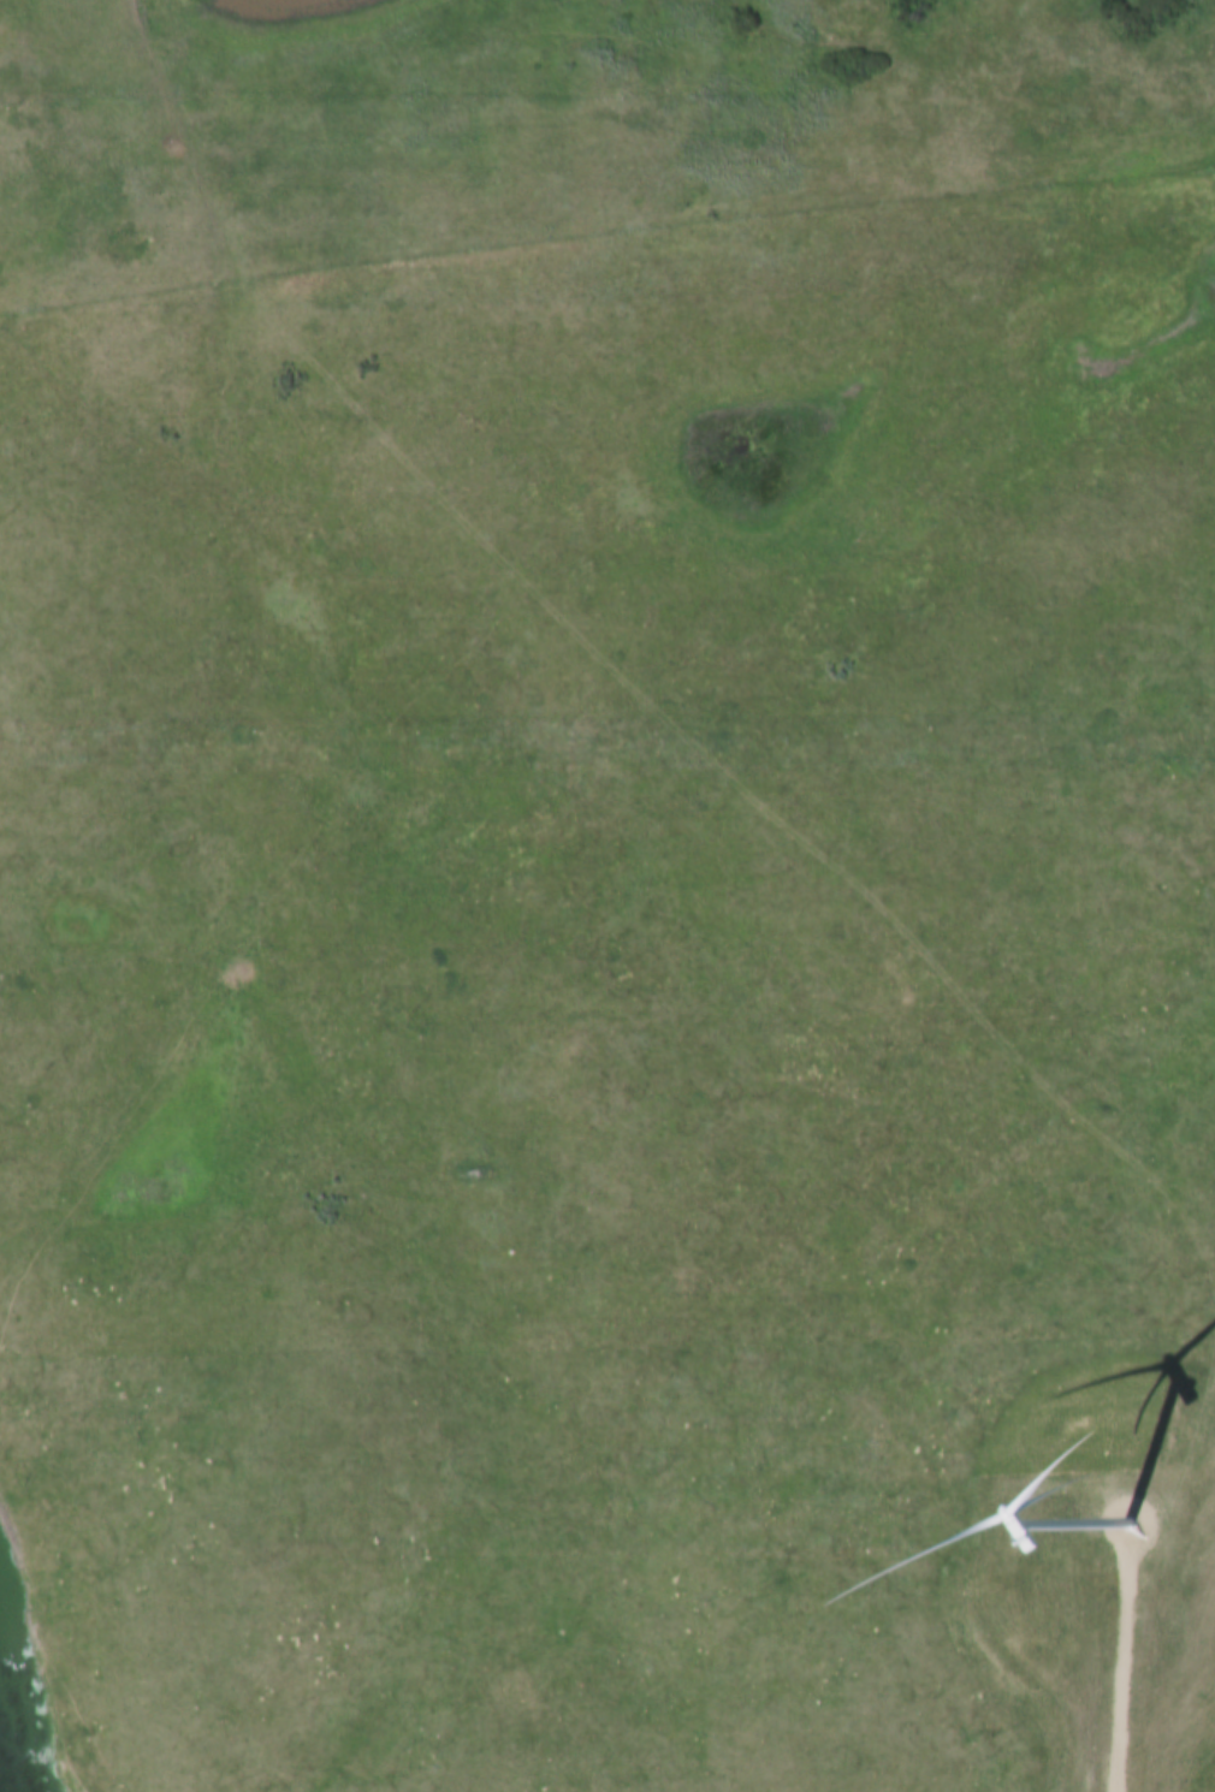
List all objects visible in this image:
wind turbine: (1112, 1503)
road: (1118, 1685)

